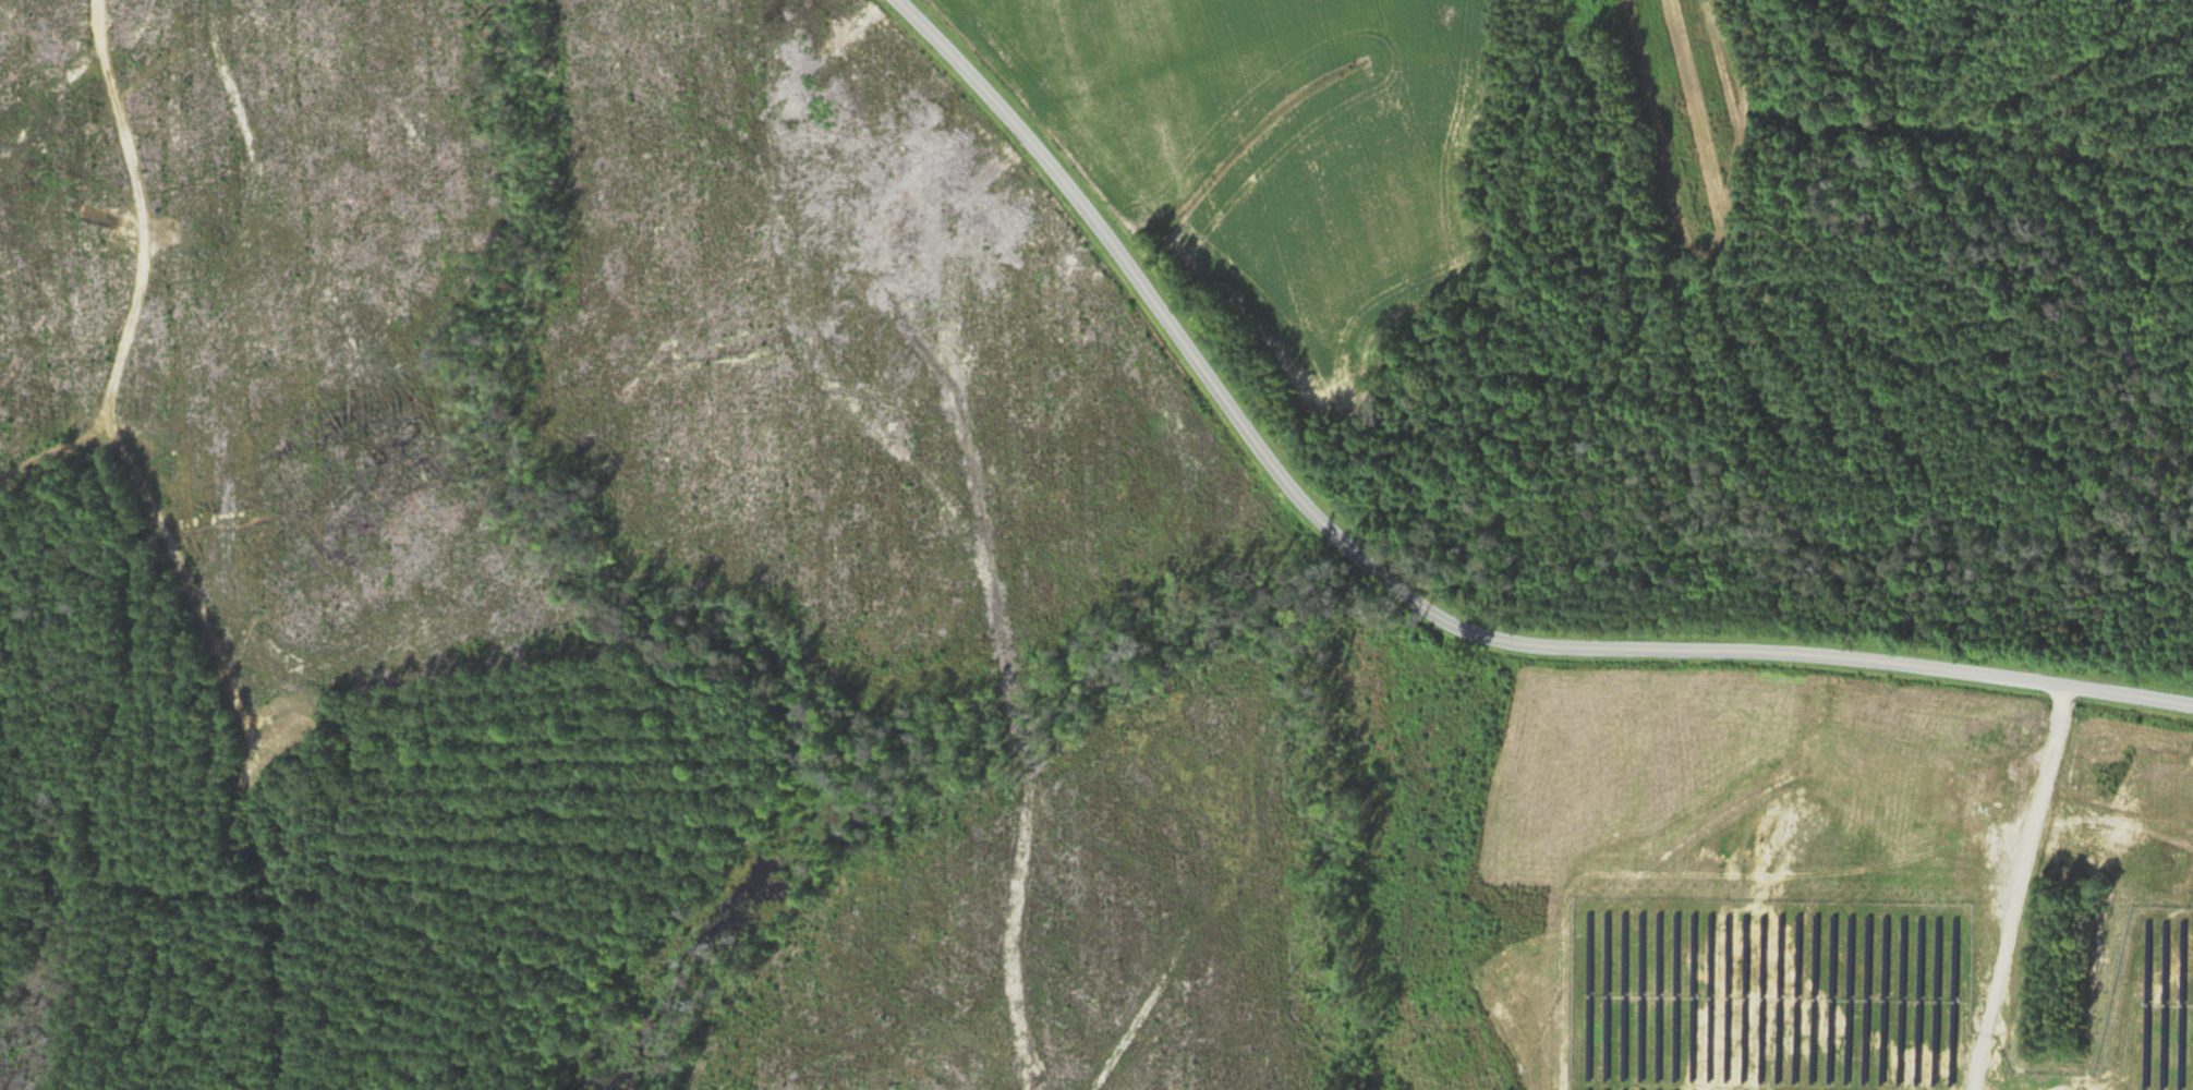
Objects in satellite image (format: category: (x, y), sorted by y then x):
road: (1413, 601)
road: (2063, 887)
building: (2062, 1087)

